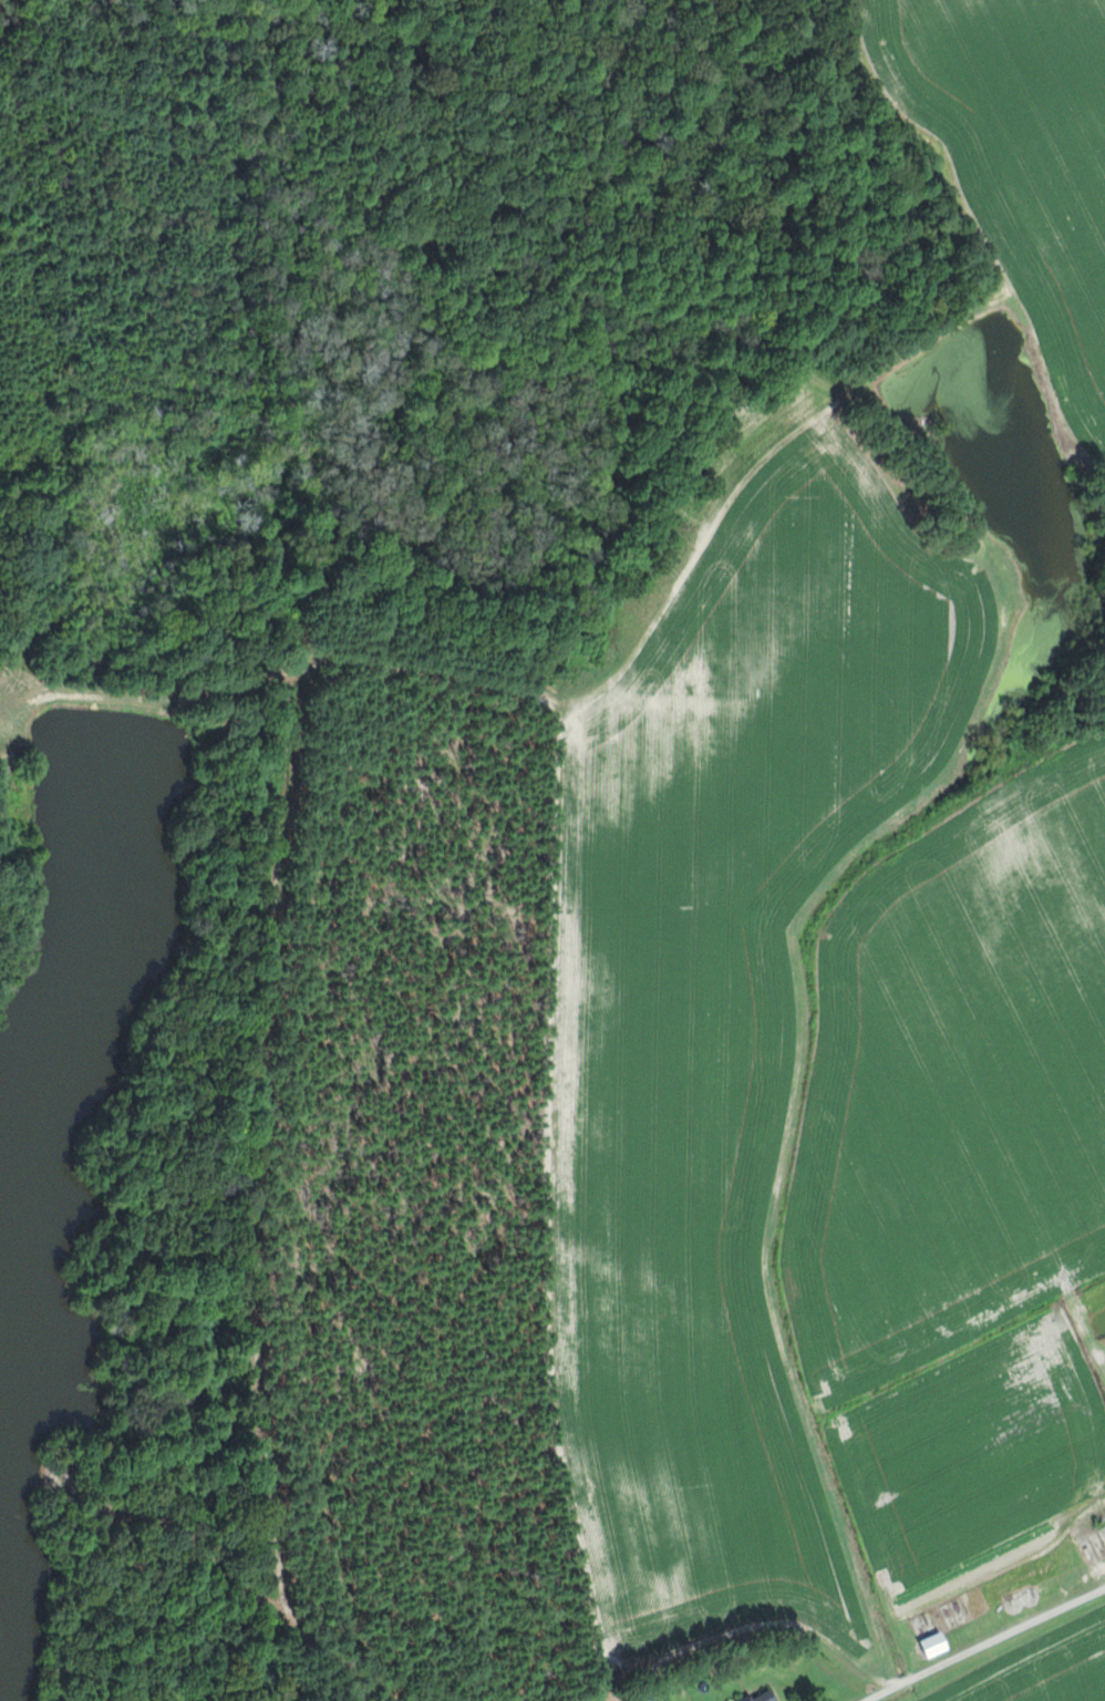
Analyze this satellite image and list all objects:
building: (937, 1645)
road: (992, 1645)
building: (765, 1695)

